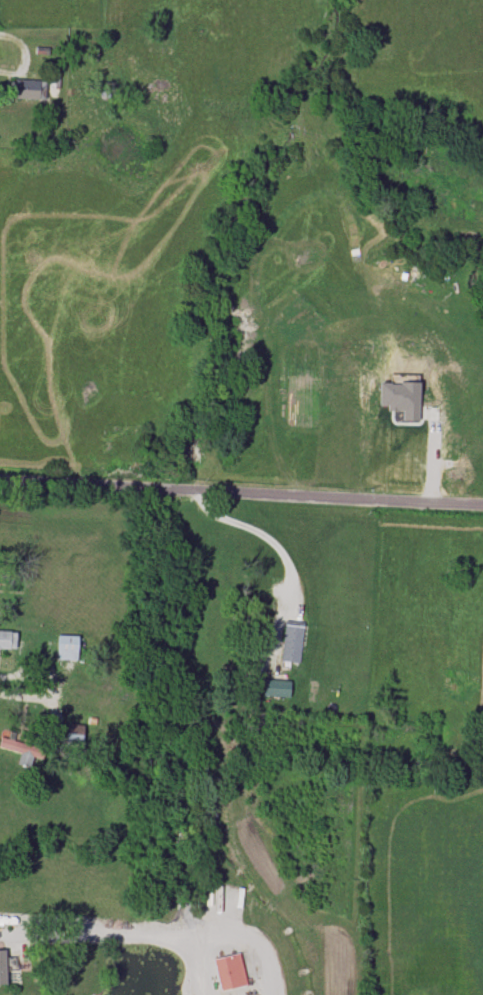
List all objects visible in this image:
building: (29, 89)
building: (400, 398)
road: (241, 489)
road: (260, 533)
building: (7, 639)
building: (291, 643)
building: (66, 647)
building: (276, 687)
road: (24, 696)
road: (93, 934)
road: (250, 936)
road: (192, 965)
building: (2, 966)
building: (228, 971)

